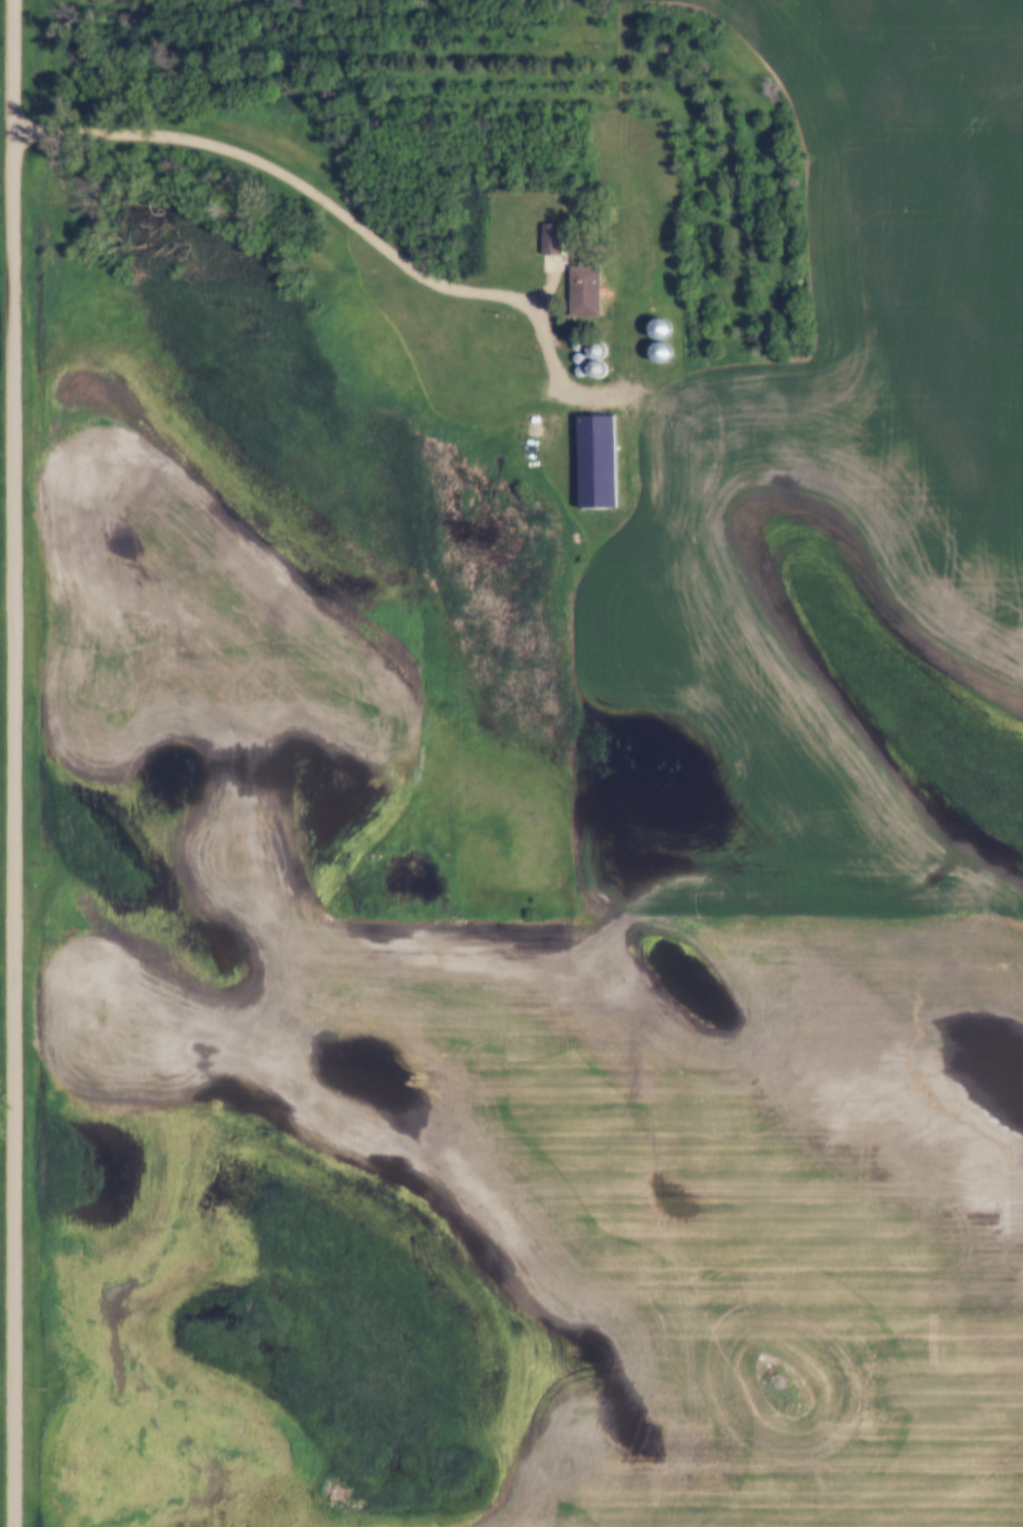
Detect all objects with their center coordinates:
road: (339, 215)
building: (551, 239)
building: (585, 292)
building: (661, 337)
building: (597, 461)
road: (11, 763)

